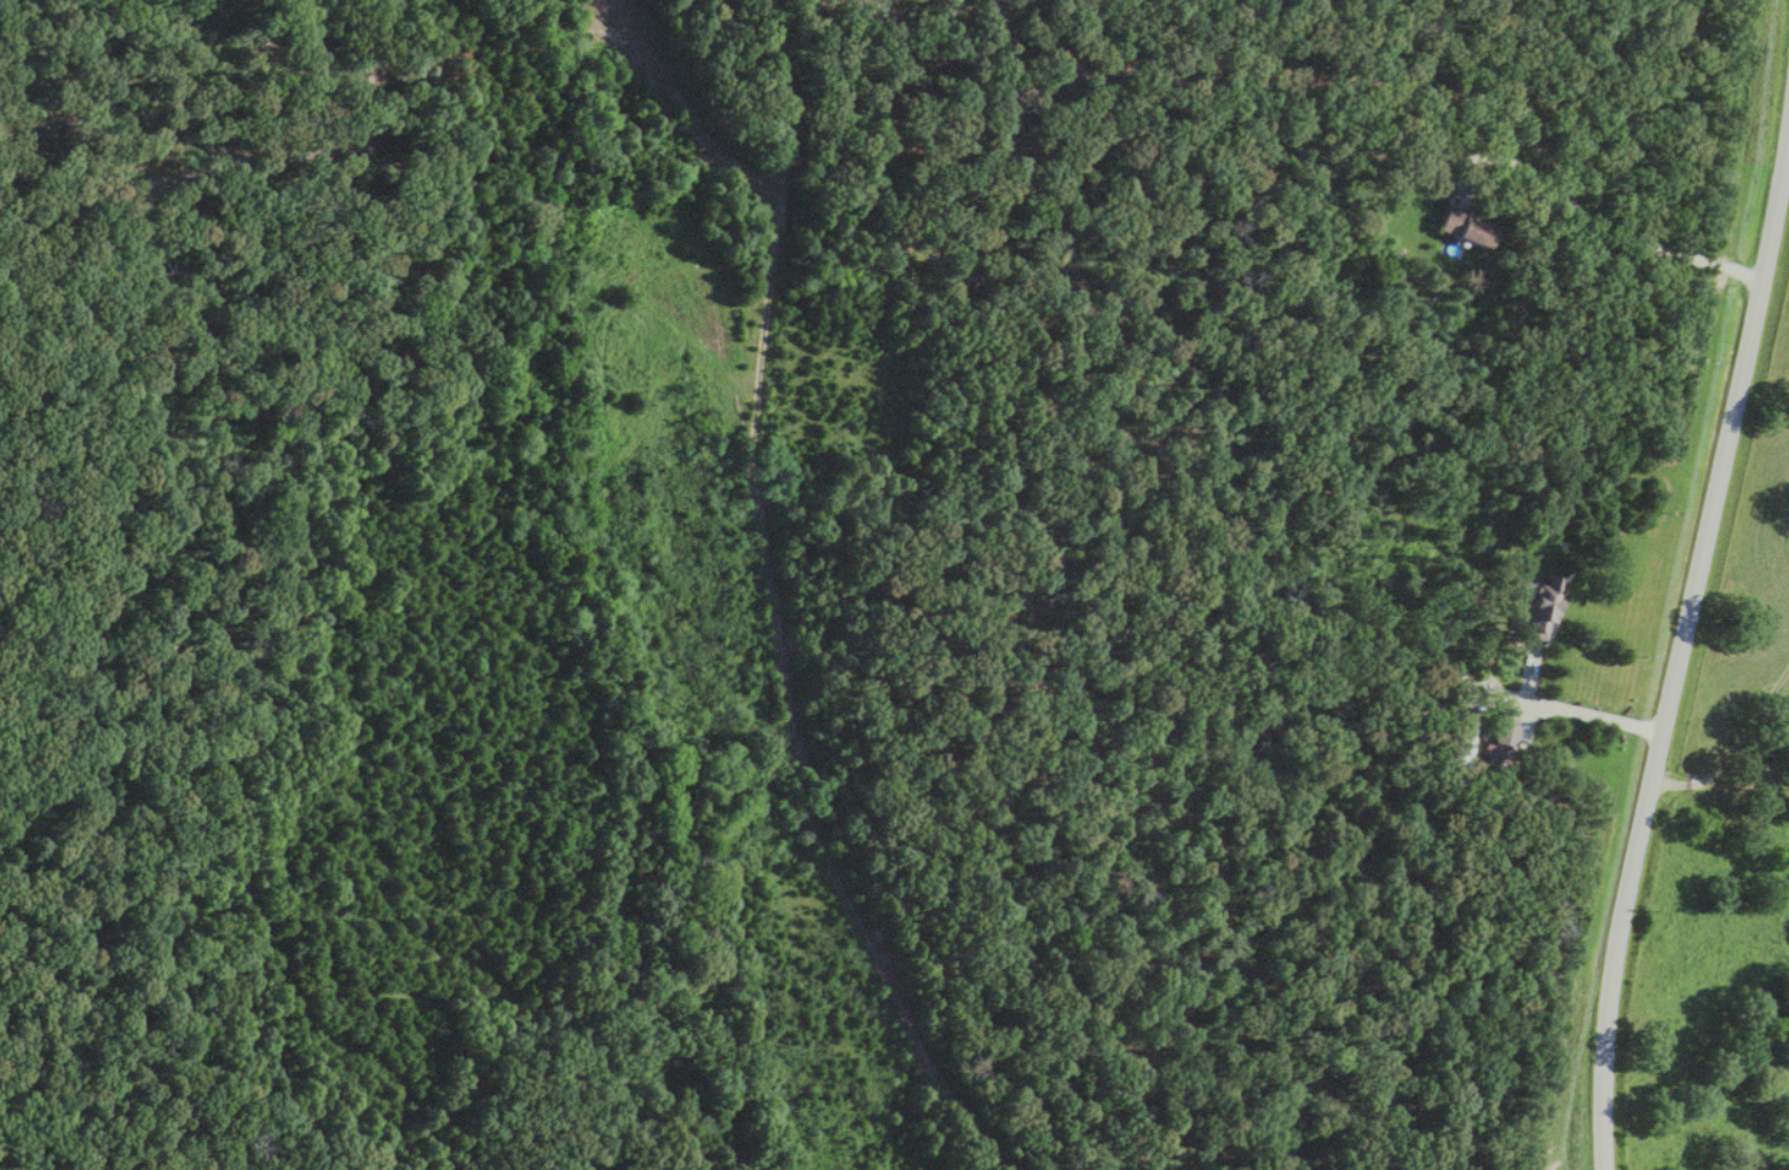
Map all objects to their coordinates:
road: (1597, 224)
building: (1461, 227)
building: (1535, 607)
road: (1678, 661)
road: (1594, 716)
building: (1458, 740)
building: (1495, 744)
road: (1738, 754)

